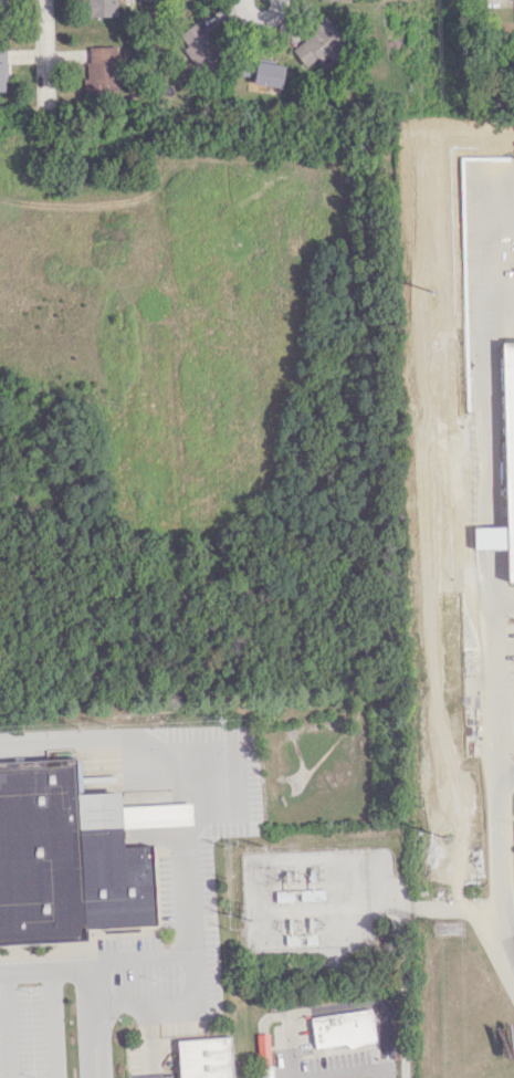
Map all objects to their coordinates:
building: (2, 1)
building: (99, 8)
road: (45, 22)
road: (262, 29)
building: (317, 43)
building: (199, 48)
building: (2, 70)
building: (101, 71)
building: (268, 74)
power tower: (430, 291)
road: (484, 422)
building: (507, 454)
building: (489, 536)
parking lot: (489, 671)
road: (486, 674)
road: (87, 736)
road: (505, 771)
power tower: (444, 838)
road: (499, 852)
building: (72, 855)
parking lot: (182, 876)
road: (187, 896)
power substation: (303, 897)
power tower: (448, 932)
road: (512, 940)
road: (136, 960)
road: (43, 977)
road: (364, 1001)
road: (266, 1017)
parking lot: (31, 1019)
road: (90, 1026)
road: (52, 1027)
road: (10, 1028)
building: (343, 1028)
gas station: (343, 1028)
road: (145, 1045)
road: (284, 1045)
building: (262, 1048)
road: (263, 1055)
building: (206, 1057)
parking lot: (144, 1059)
road: (342, 1070)
building: (264, 1071)
road: (285, 1077)

